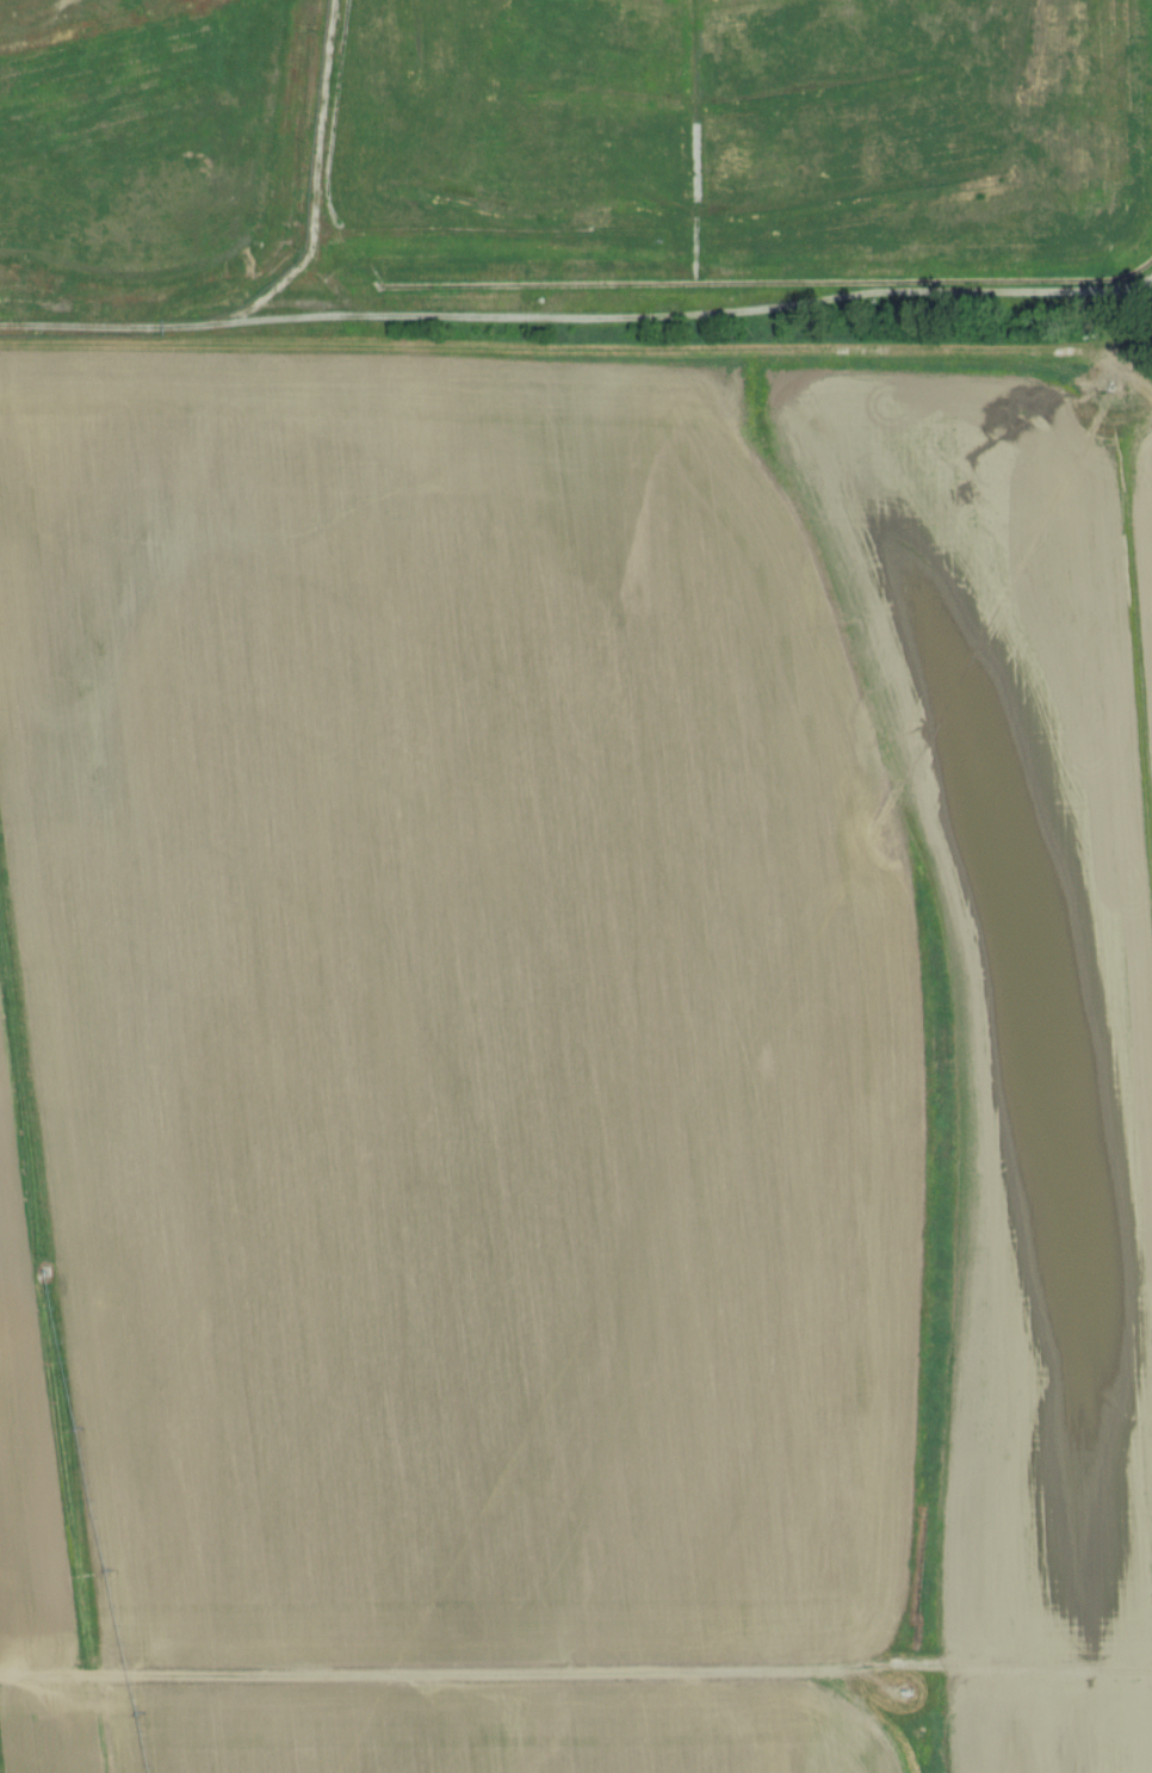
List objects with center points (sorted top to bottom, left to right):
road: (422, 1673)

